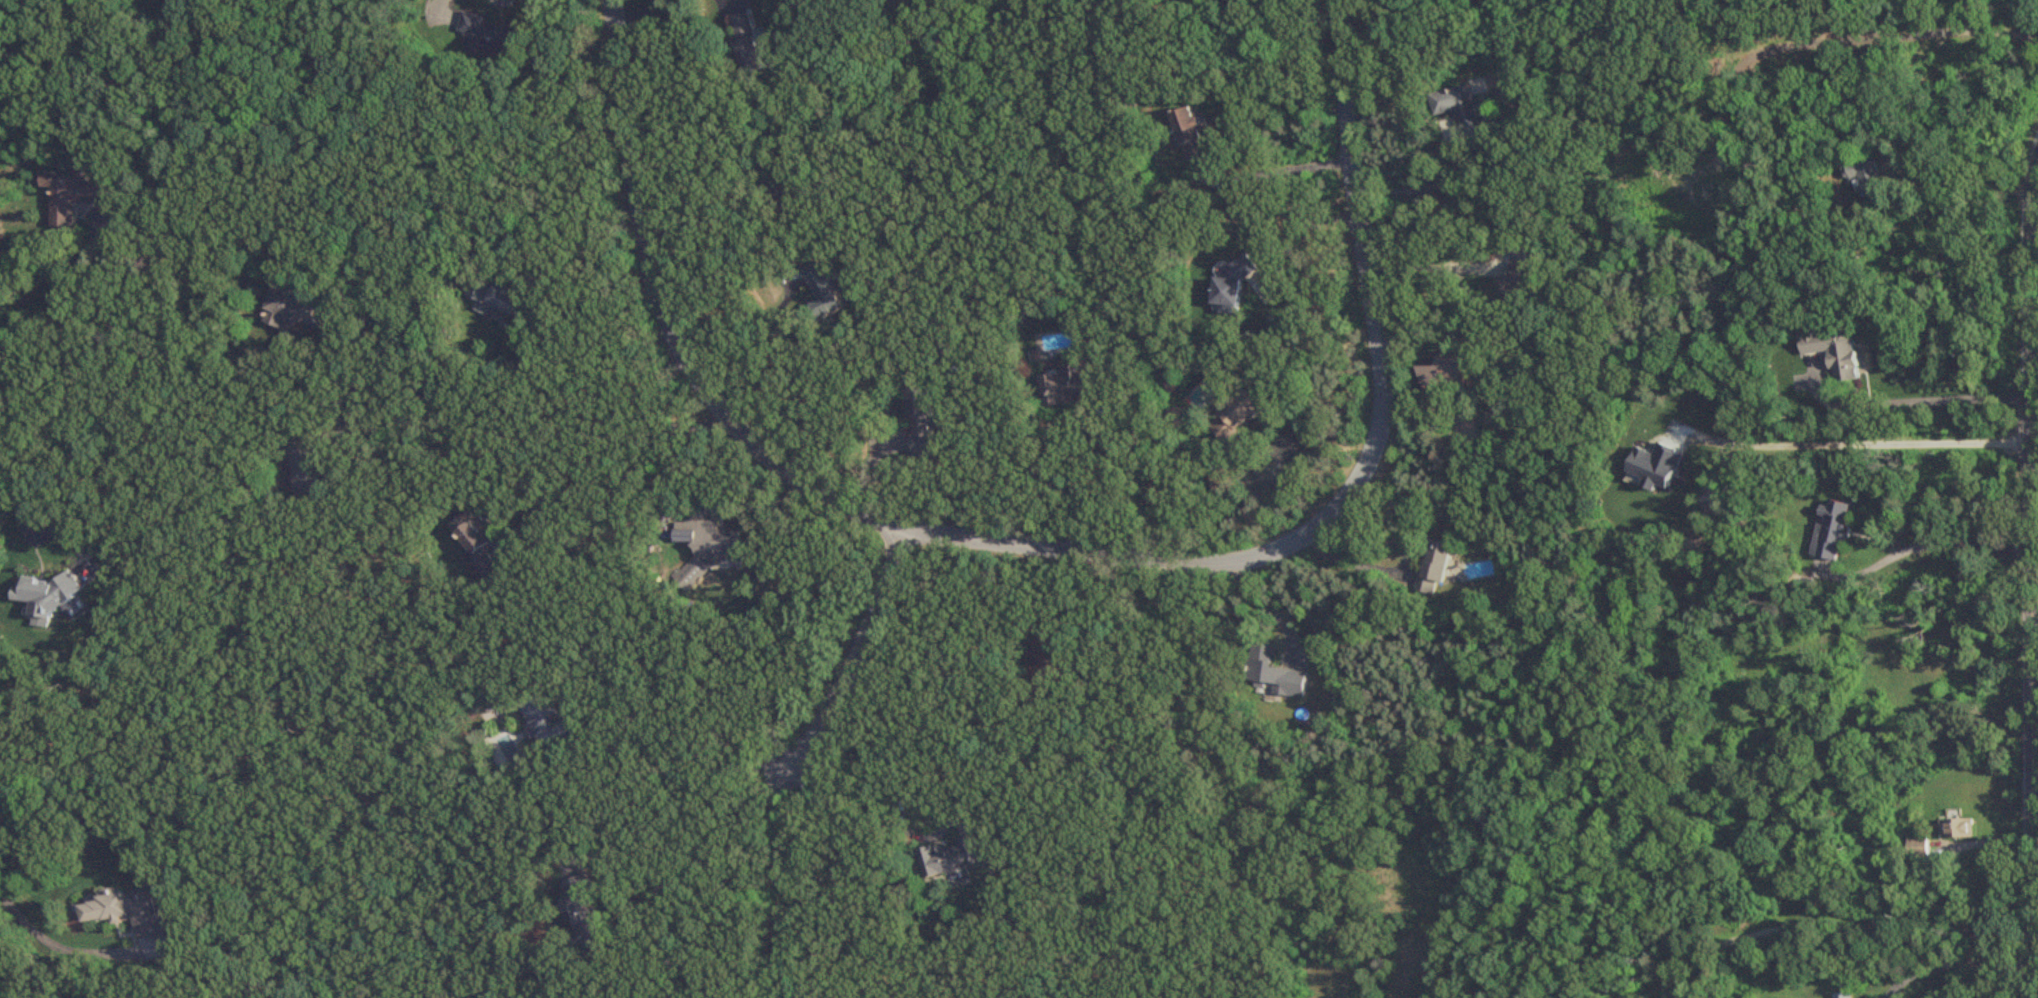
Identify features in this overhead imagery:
road: (651, 11)
building: (493, 35)
building: (751, 42)
building: (1458, 109)
building: (1197, 134)
road: (467, 157)
road: (1283, 169)
building: (1870, 176)
building: (74, 195)
road: (1972, 195)
road: (718, 218)
road: (1299, 229)
road: (517, 236)
building: (1228, 289)
building: (828, 292)
building: (496, 296)
building: (296, 310)
road: (58, 311)
road: (748, 333)
building: (1832, 353)
building: (1441, 377)
building: (1068, 385)
road: (1923, 401)
building: (1234, 418)
building: (925, 422)
road: (532, 423)
road: (1859, 438)
road: (618, 448)
building: (307, 466)
road: (1097, 489)
road: (18, 500)
road: (1181, 507)
building: (1830, 531)
building: (704, 535)
road: (1968, 544)
building: (484, 545)
road: (1062, 548)
road: (1351, 565)
building: (1431, 567)
road: (2030, 578)
building: (50, 595)
road: (1269, 608)
road: (1107, 617)
road: (859, 654)
building: (1052, 656)
building: (1272, 673)
building: (551, 720)
road: (690, 762)
road: (885, 767)
building: (1956, 828)
building: (951, 856)
road: (744, 863)
road: (780, 880)
building: (586, 910)
building: (132, 911)
road: (1839, 927)
road: (42, 939)
building: (1842, 995)

